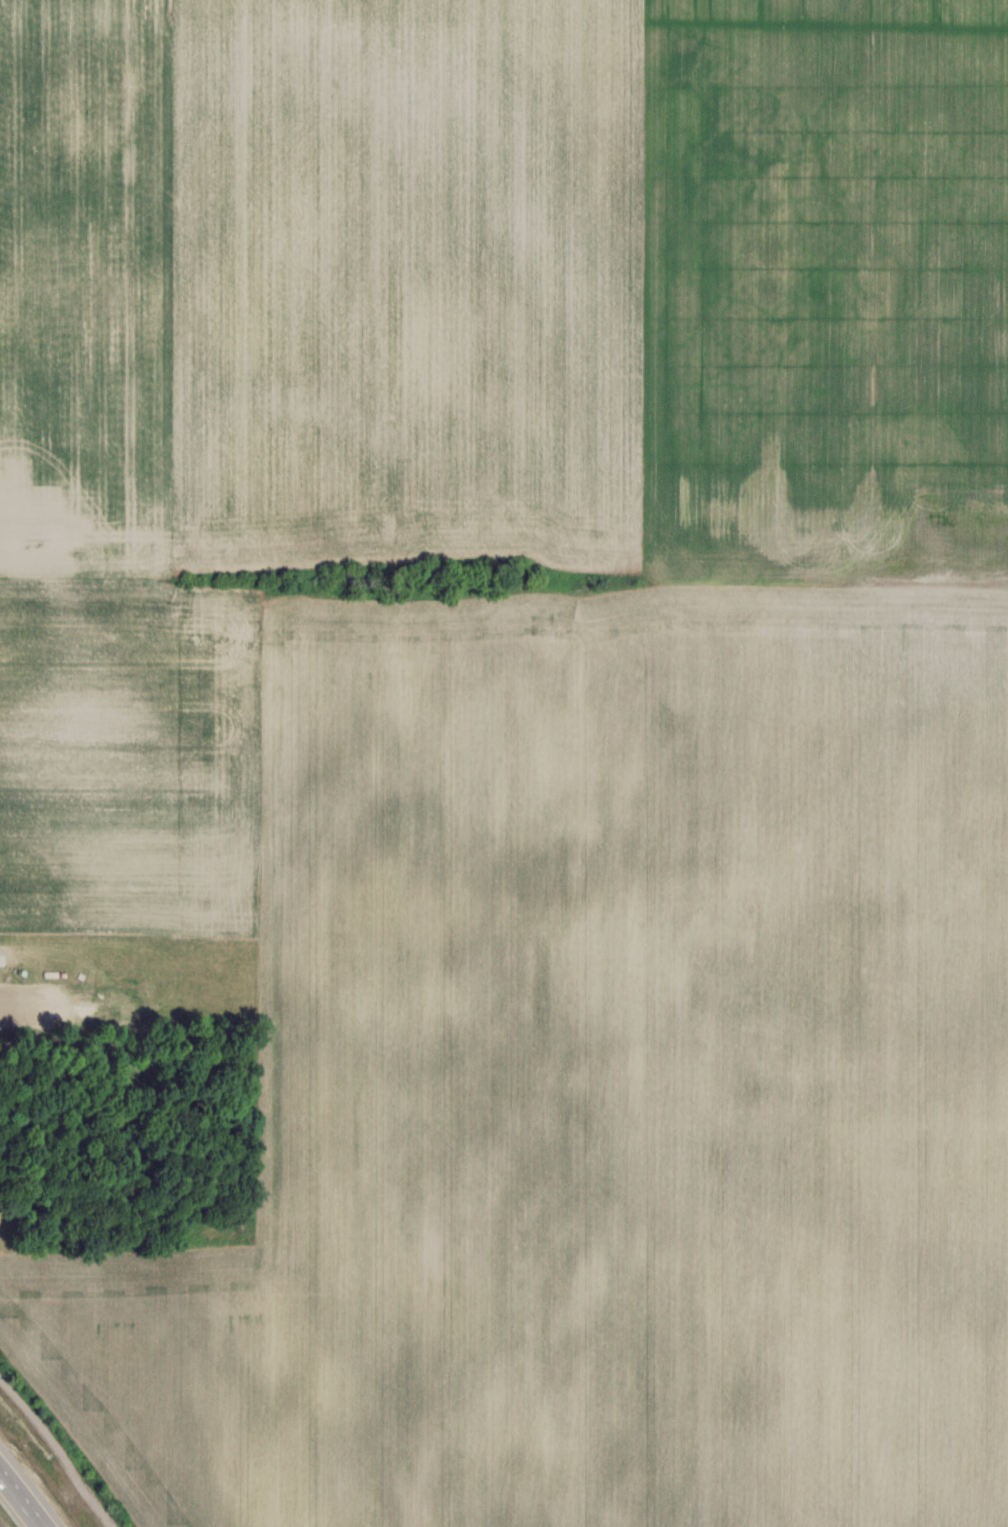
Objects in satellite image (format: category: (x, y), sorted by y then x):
road: (58, 1451)
road: (17, 1503)

